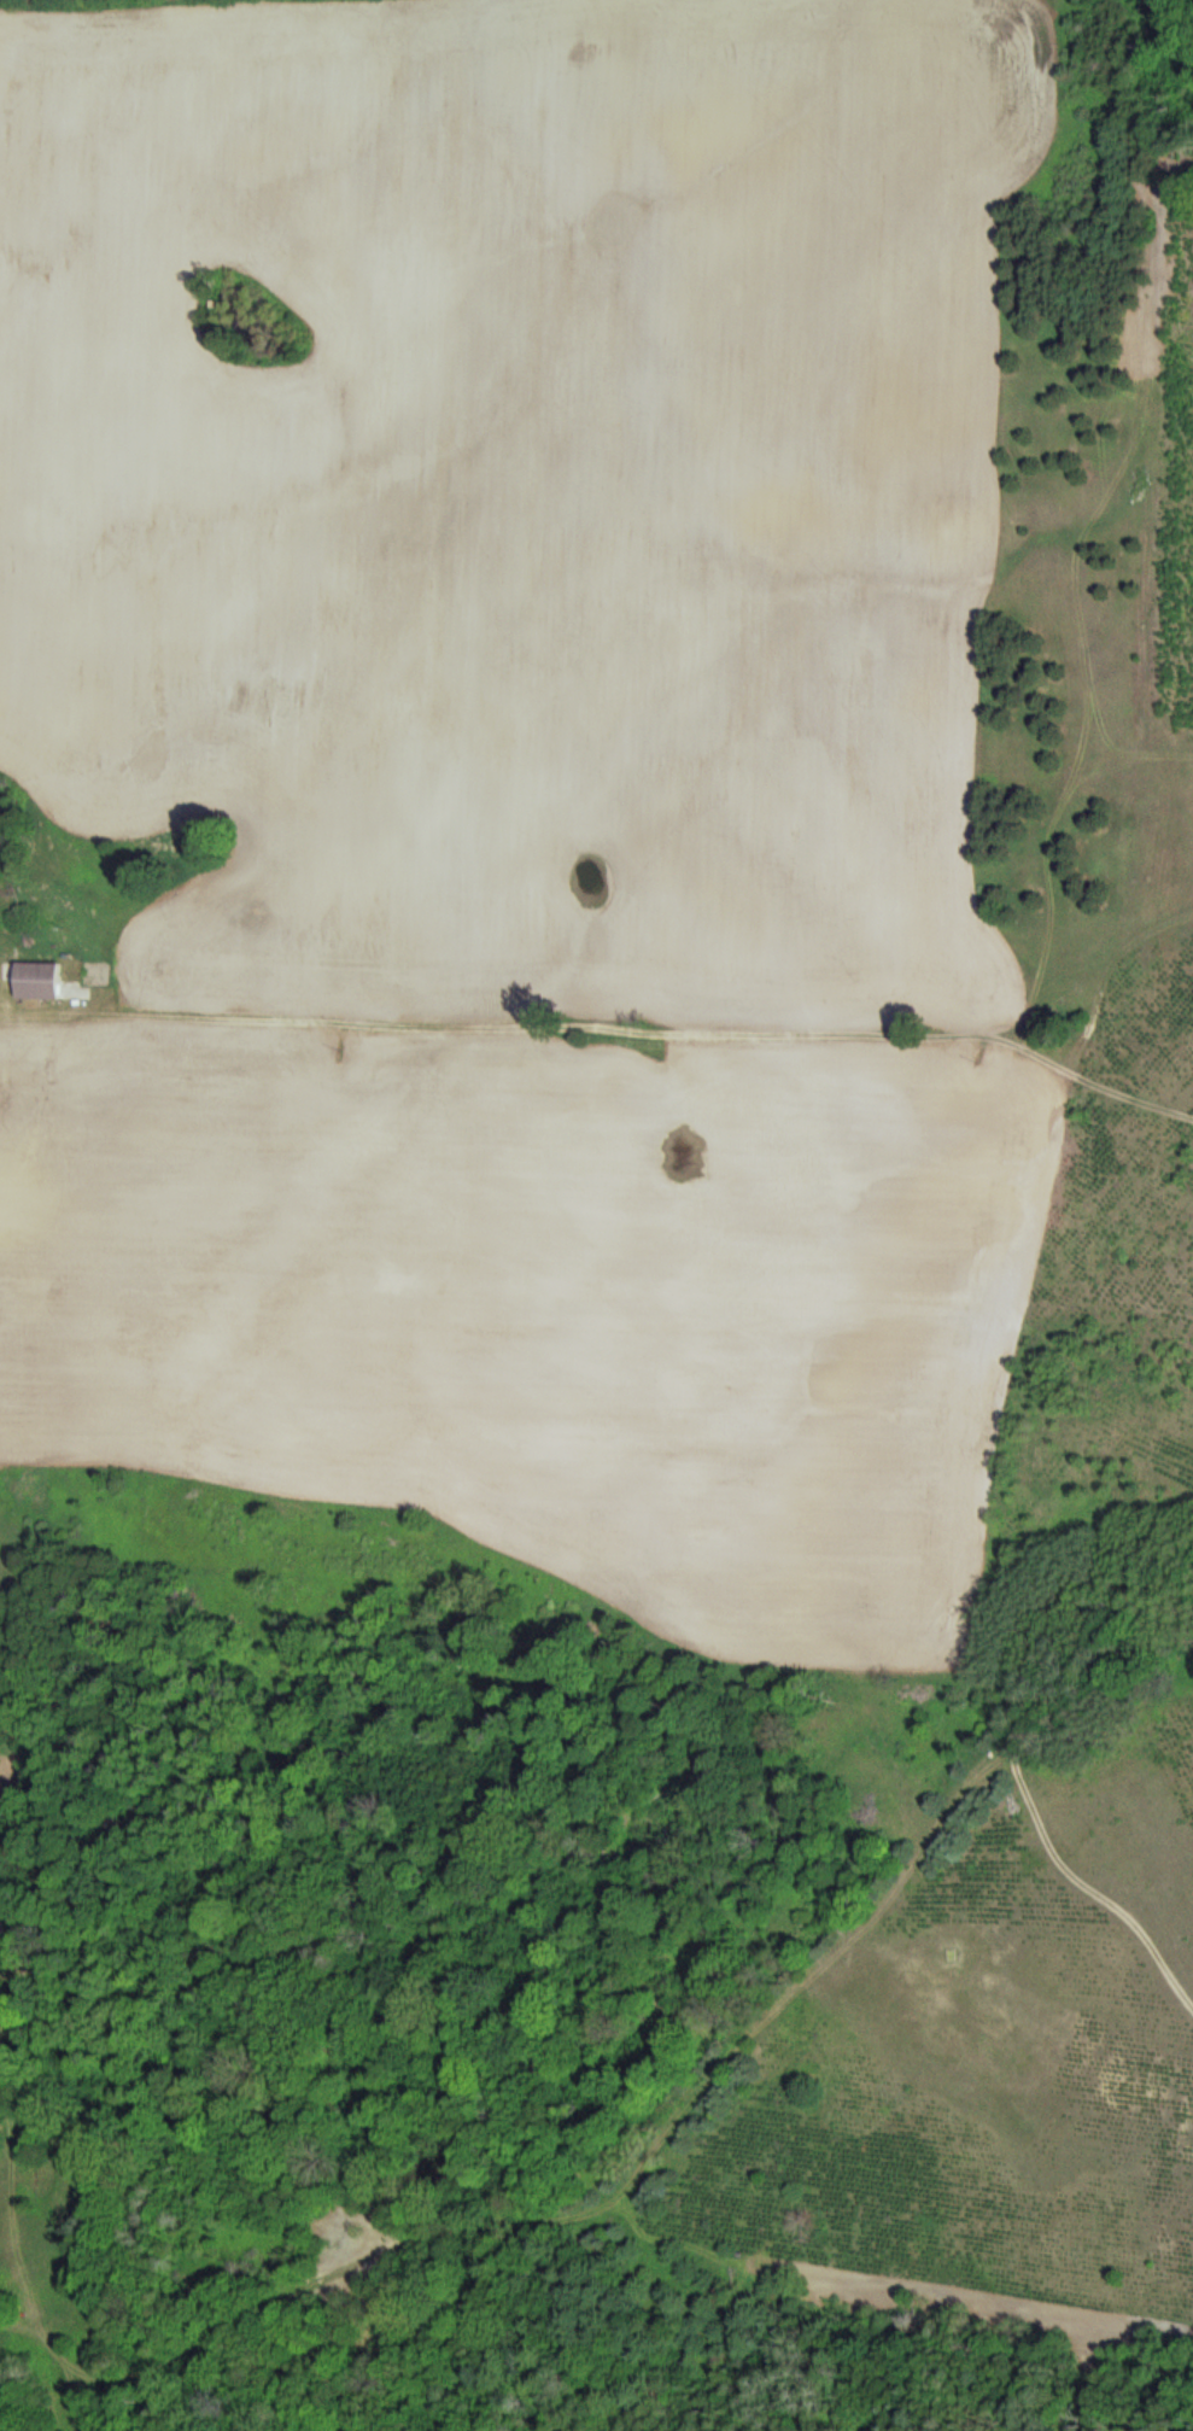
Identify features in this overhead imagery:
building: (39, 981)

